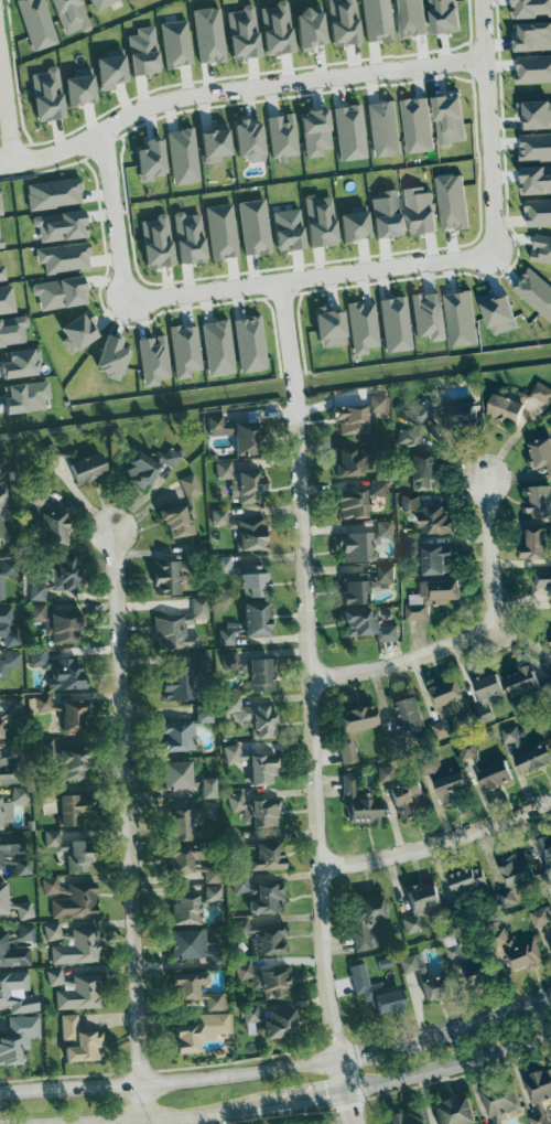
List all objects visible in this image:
building: (107, 3)
building: (536, 8)
building: (76, 14)
building: (452, 15)
building: (417, 17)
building: (383, 20)
building: (350, 22)
building: (43, 23)
building: (284, 29)
building: (320, 29)
building: (250, 32)
building: (215, 35)
building: (537, 35)
building: (182, 43)
building: (151, 51)
building: (536, 67)
building: (119, 71)
building: (88, 86)
road: (261, 90)
building: (54, 94)
road: (7, 111)
building: (537, 114)
building: (456, 119)
building: (422, 125)
building: (389, 128)
building: (323, 131)
road: (486, 131)
building: (356, 132)
building: (289, 137)
building: (257, 140)
building: (224, 142)
building: (538, 146)
building: (188, 156)
building: (159, 160)
road: (25, 161)
building: (60, 194)
building: (457, 200)
building: (3, 203)
building: (426, 210)
building: (540, 212)
building: (395, 214)
road: (110, 220)
building: (328, 221)
building: (67, 225)
building: (363, 226)
building: (260, 227)
building: (295, 229)
building: (227, 231)
building: (2, 236)
building: (196, 238)
building: (163, 242)
building: (544, 248)
building: (69, 258)
building: (4, 271)
road: (302, 280)
building: (538, 289)
building: (66, 292)
building: (9, 300)
building: (504, 312)
building: (433, 315)
building: (465, 318)
building: (401, 324)
building: (368, 327)
building: (337, 328)
building: (85, 333)
road: (287, 343)
building: (257, 344)
building: (224, 349)
building: (191, 351)
building: (119, 357)
building: (159, 360)
building: (28, 364)
building: (33, 397)
building: (505, 408)
building: (462, 413)
building: (358, 416)
building: (239, 435)
building: (540, 452)
building: (175, 457)
building: (358, 459)
building: (418, 462)
building: (88, 469)
building: (139, 470)
building: (1, 475)
building: (241, 482)
building: (190, 486)
building: (377, 488)
building: (540, 500)
building: (352, 504)
building: (435, 518)
building: (177, 522)
building: (383, 528)
building: (54, 529)
building: (241, 529)
building: (538, 542)
building: (415, 545)
building: (357, 547)
building: (435, 557)
building: (231, 564)
building: (385, 572)
building: (61, 577)
building: (165, 577)
building: (542, 578)
building: (253, 581)
building: (4, 588)
building: (357, 592)
building: (431, 596)
building: (257, 619)
building: (368, 624)
building: (56, 625)
building: (7, 628)
building: (179, 628)
road: (469, 634)
building: (231, 636)
building: (199, 663)
building: (240, 663)
building: (10, 666)
building: (60, 670)
building: (260, 674)
building: (521, 681)
building: (176, 686)
building: (486, 696)
building: (444, 697)
building: (64, 713)
building: (409, 715)
building: (255, 718)
building: (0, 725)
building: (354, 729)
building: (440, 729)
road: (314, 730)
building: (176, 736)
building: (533, 758)
building: (11, 762)
building: (73, 766)
building: (255, 767)
building: (487, 769)
building: (186, 780)
building: (449, 783)
building: (216, 789)
building: (366, 790)
building: (46, 794)
building: (406, 799)
building: (359, 802)
building: (9, 807)
building: (71, 810)
building: (205, 811)
building: (256, 812)
road: (130, 825)
building: (180, 825)
building: (56, 838)
road: (439, 842)
building: (10, 847)
building: (79, 856)
building: (263, 857)
building: (545, 860)
building: (188, 861)
building: (21, 865)
building: (514, 874)
building: (464, 886)
building: (261, 896)
building: (3, 899)
building: (76, 901)
building: (190, 907)
building: (420, 907)
building: (24, 910)
building: (541, 917)
building: (365, 921)
building: (550, 932)
building: (264, 938)
building: (73, 944)
building: (15, 945)
building: (193, 948)
building: (521, 956)
building: (419, 966)
building: (266, 981)
building: (436, 987)
building: (76, 989)
building: (194, 991)
building: (17, 993)
building: (376, 993)
building: (273, 1021)
building: (199, 1030)
road: (445, 1030)
building: (18, 1039)
building: (79, 1042)
road: (449, 1064)
road: (342, 1074)
road: (170, 1082)
building: (539, 1085)
building: (500, 1098)
road: (347, 1107)
building: (454, 1112)
road: (202, 1113)
building: (408, 1117)
road: (201, 1118)

